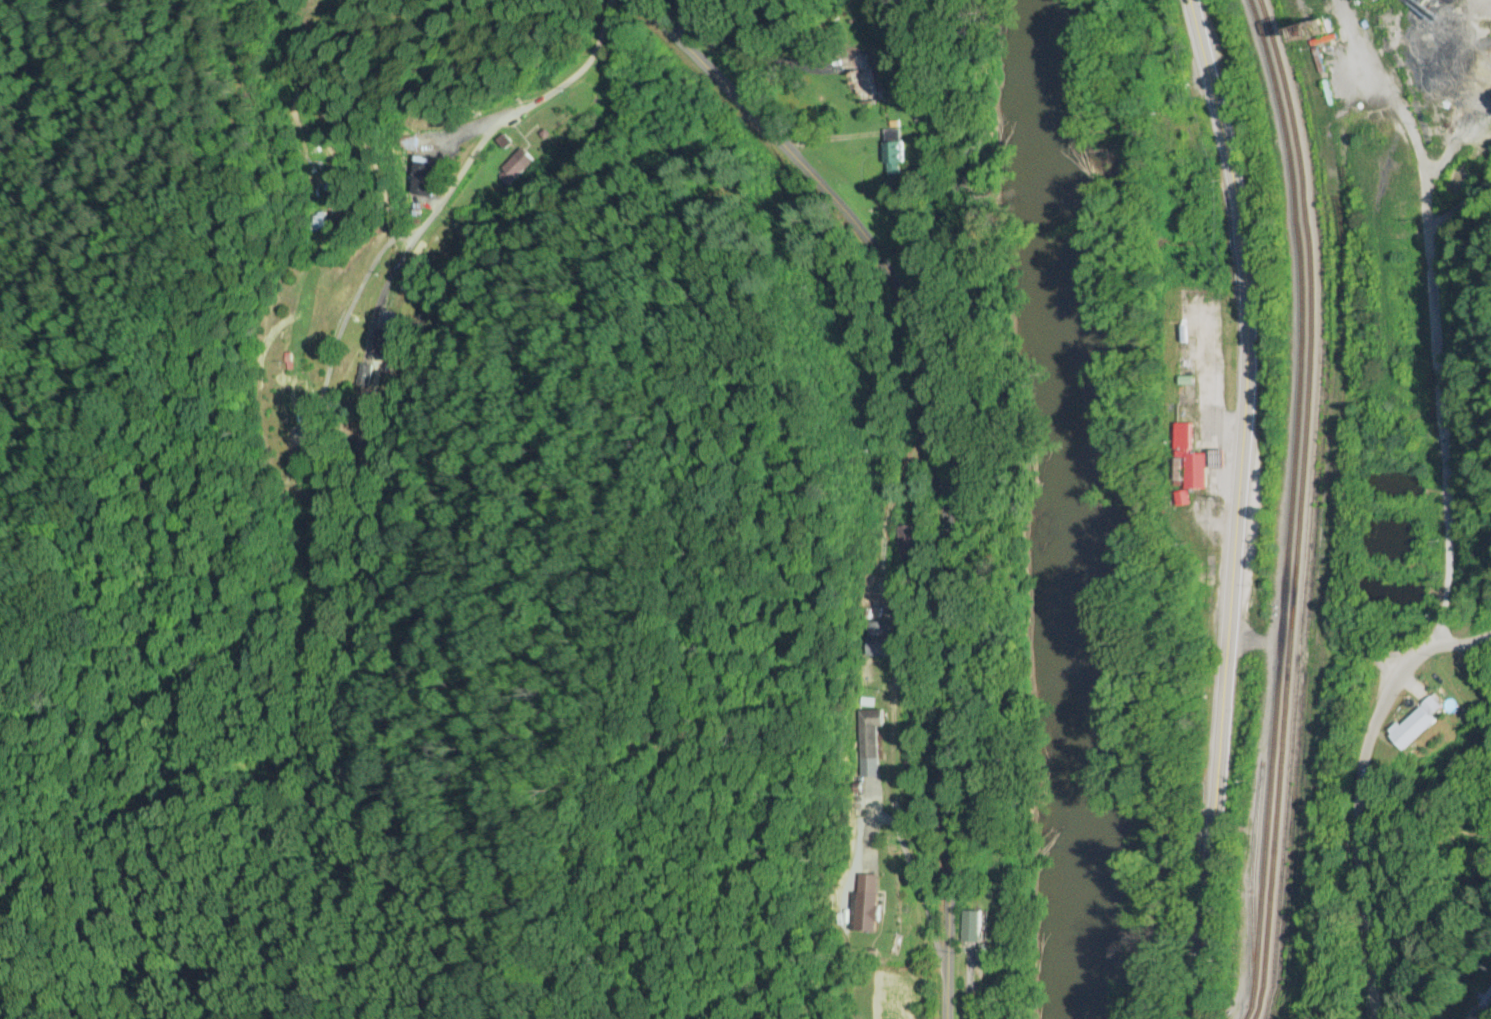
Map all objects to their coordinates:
building: (861, 79)
road: (1415, 134)
road: (489, 141)
building: (891, 155)
building: (515, 168)
building: (425, 178)
building: (316, 224)
building: (385, 333)
building: (362, 376)
building: (299, 399)
road: (932, 452)
road: (1442, 469)
building: (1193, 470)
river: (1086, 507)
road: (1236, 507)
railway: (1293, 507)
building: (877, 639)
road: (1246, 641)
road: (1442, 646)
road: (1372, 661)
building: (1412, 720)
building: (870, 741)
road: (1359, 841)
building: (866, 903)
building: (970, 926)
building: (981, 954)
building: (1485, 1001)

